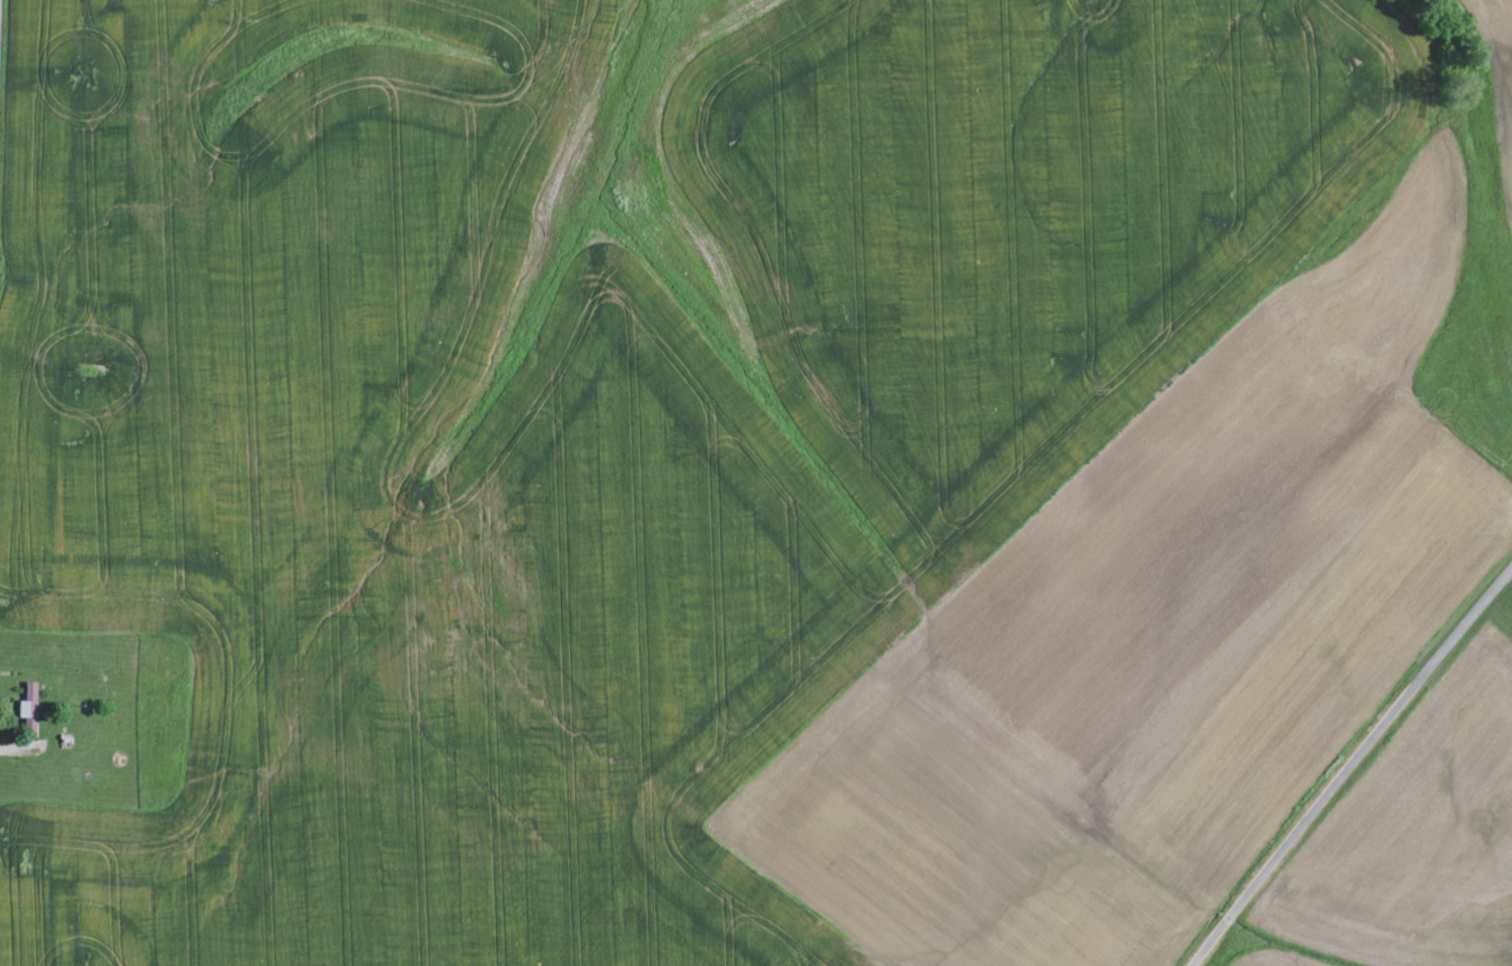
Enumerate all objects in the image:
building: (28, 708)
road: (1350, 766)

